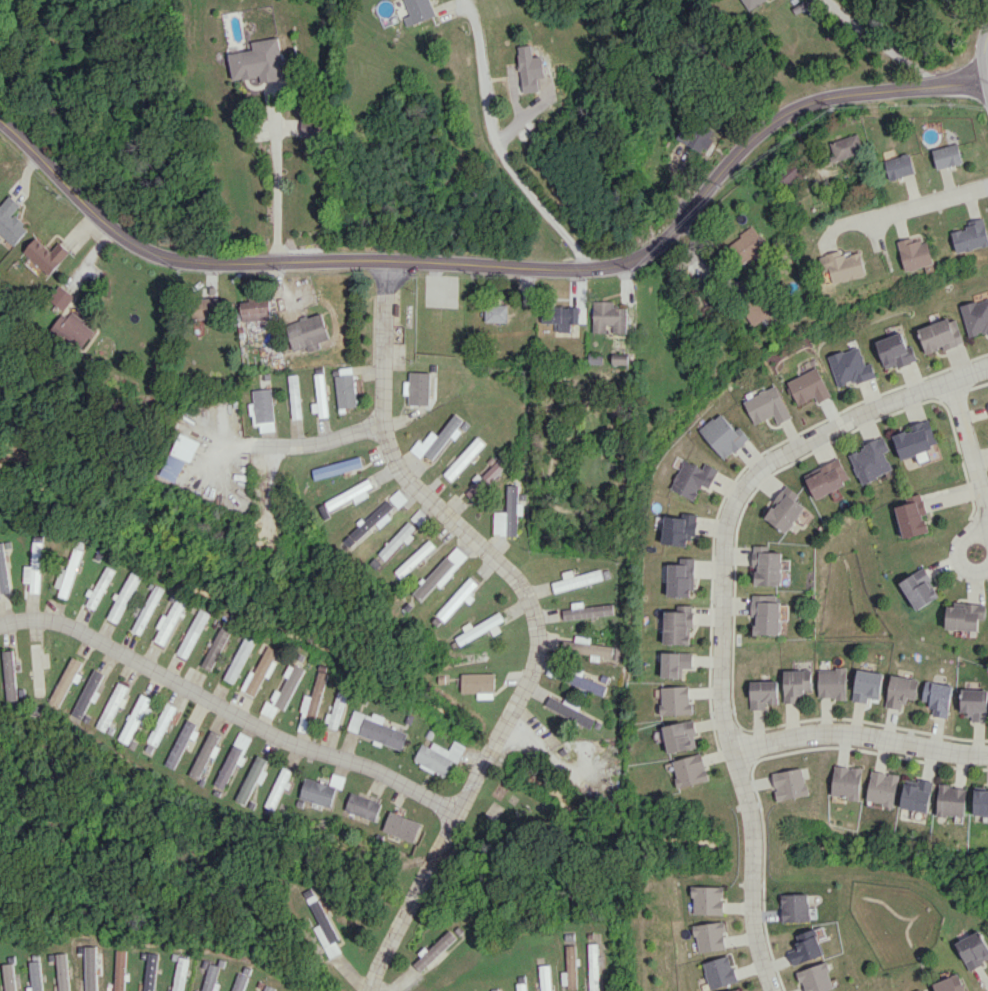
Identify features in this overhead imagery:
building: (748, 2)
building: (419, 11)
road: (881, 44)
road: (983, 55)
building: (258, 61)
building: (530, 68)
road: (987, 83)
building: (310, 126)
building: (694, 135)
building: (844, 147)
road: (500, 153)
building: (946, 155)
building: (899, 166)
building: (789, 174)
road: (276, 189)
road: (914, 203)
building: (11, 221)
building: (971, 235)
building: (746, 246)
building: (916, 253)
building: (46, 254)
road: (500, 265)
building: (845, 266)
building: (60, 297)
building: (204, 308)
building: (254, 310)
building: (496, 313)
building: (976, 316)
building: (560, 317)
building: (608, 317)
building: (73, 329)
building: (307, 332)
building: (940, 335)
building: (894, 351)
building: (595, 358)
building: (619, 359)
building: (849, 366)
building: (808, 386)
building: (345, 390)
building: (293, 396)
building: (319, 397)
building: (987, 404)
building: (766, 405)
building: (260, 406)
building: (722, 435)
building: (437, 439)
building: (915, 439)
road: (286, 446)
building: (178, 455)
building: (462, 459)
building: (871, 460)
road: (974, 465)
building: (336, 468)
building: (486, 477)
building: (827, 477)
building: (691, 478)
building: (350, 495)
building: (398, 498)
building: (784, 510)
building: (508, 514)
building: (912, 515)
building: (371, 521)
building: (677, 529)
building: (399, 539)
building: (415, 558)
building: (766, 565)
building: (4, 568)
building: (34, 568)
building: (442, 572)
building: (68, 574)
building: (680, 578)
building: (576, 579)
building: (99, 587)
building: (920, 588)
building: (123, 597)
building: (458, 598)
road: (721, 601)
building: (147, 609)
building: (587, 610)
road: (531, 614)
building: (765, 614)
building: (964, 615)
building: (168, 622)
building: (677, 625)
building: (481, 628)
building: (192, 633)
building: (567, 645)
building: (216, 647)
building: (591, 647)
building: (240, 658)
building: (675, 663)
building: (38, 668)
building: (260, 670)
building: (9, 675)
building: (65, 681)
building: (477, 682)
building: (832, 683)
building: (795, 684)
building: (287, 685)
building: (867, 685)
building: (900, 690)
building: (86, 693)
building: (762, 694)
building: (937, 697)
building: (675, 700)
building: (312, 702)
building: (974, 703)
building: (112, 706)
road: (226, 709)
building: (336, 710)
building: (569, 710)
building: (135, 717)
building: (161, 724)
building: (376, 729)
building: (679, 736)
road: (860, 737)
building: (179, 743)
building: (242, 743)
building: (205, 752)
building: (439, 757)
building: (227, 766)
building: (690, 770)
building: (251, 778)
building: (846, 781)
building: (789, 783)
building: (277, 787)
building: (882, 787)
building: (317, 792)
building: (916, 794)
building: (951, 800)
building: (981, 802)
building: (362, 805)
building: (401, 826)
building: (707, 900)
building: (795, 907)
building: (325, 930)
building: (709, 936)
building: (806, 946)
building: (973, 949)
building: (433, 950)
building: (593, 967)
building: (569, 968)
building: (121, 970)
building: (151, 971)
building: (63, 972)
building: (718, 972)
building: (181, 974)
building: (36, 976)
building: (10, 977)
building: (211, 977)
building: (545, 977)
building: (816, 978)
building: (240, 982)
building: (950, 984)
building: (521, 986)
building: (269, 988)
building: (196, 990)
building: (738, 990)

